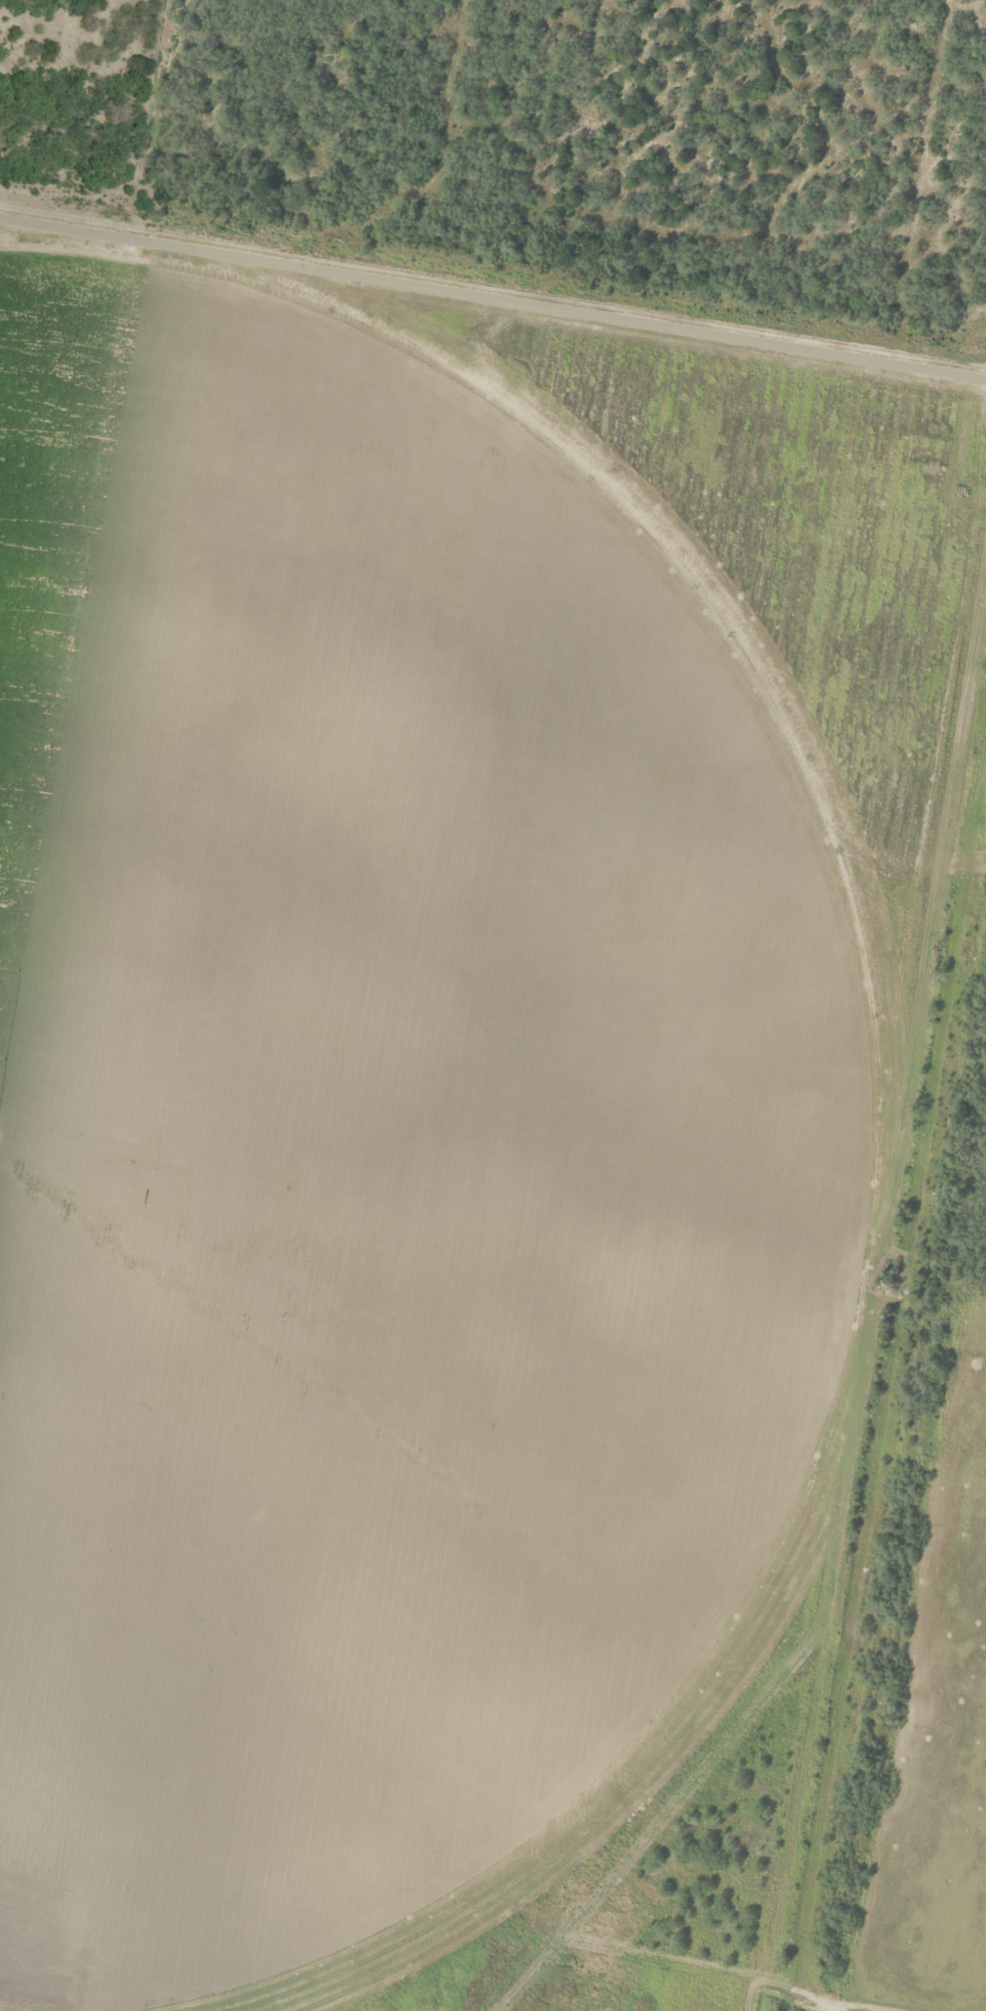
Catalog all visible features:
railway: (493, 255)
road: (493, 294)
road: (967, 338)
road: (853, 1272)
railway: (905, 1481)

